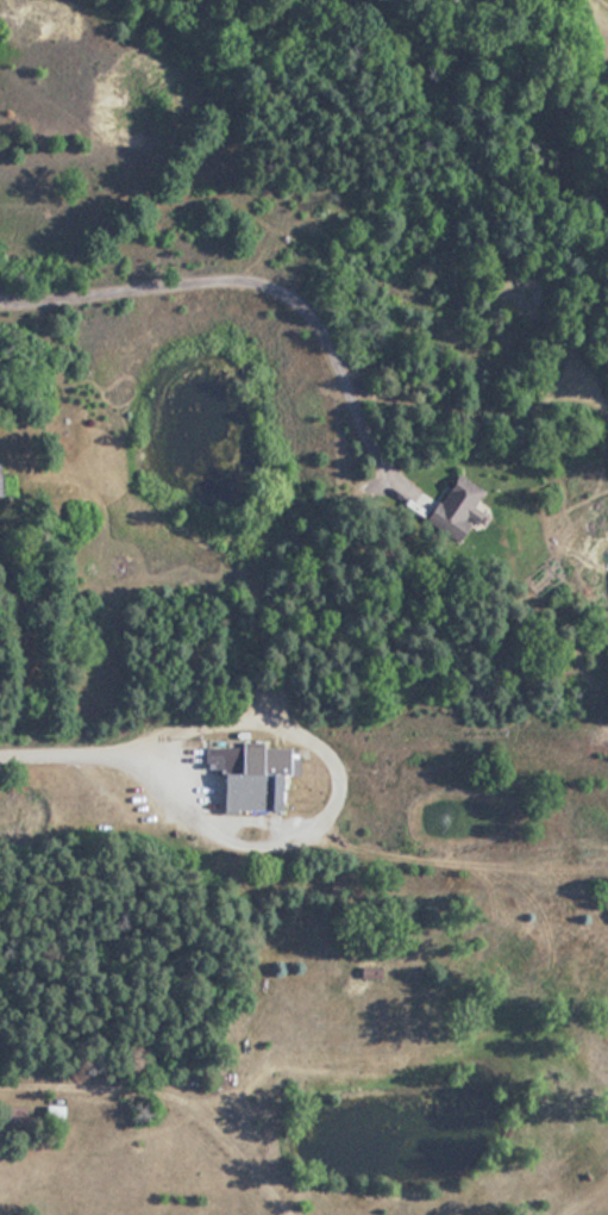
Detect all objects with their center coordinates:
road: (180, 180)
road: (261, 280)
building: (451, 507)
road: (133, 777)
building: (243, 784)
building: (389, 972)
road: (38, 1072)
building: (61, 1116)

